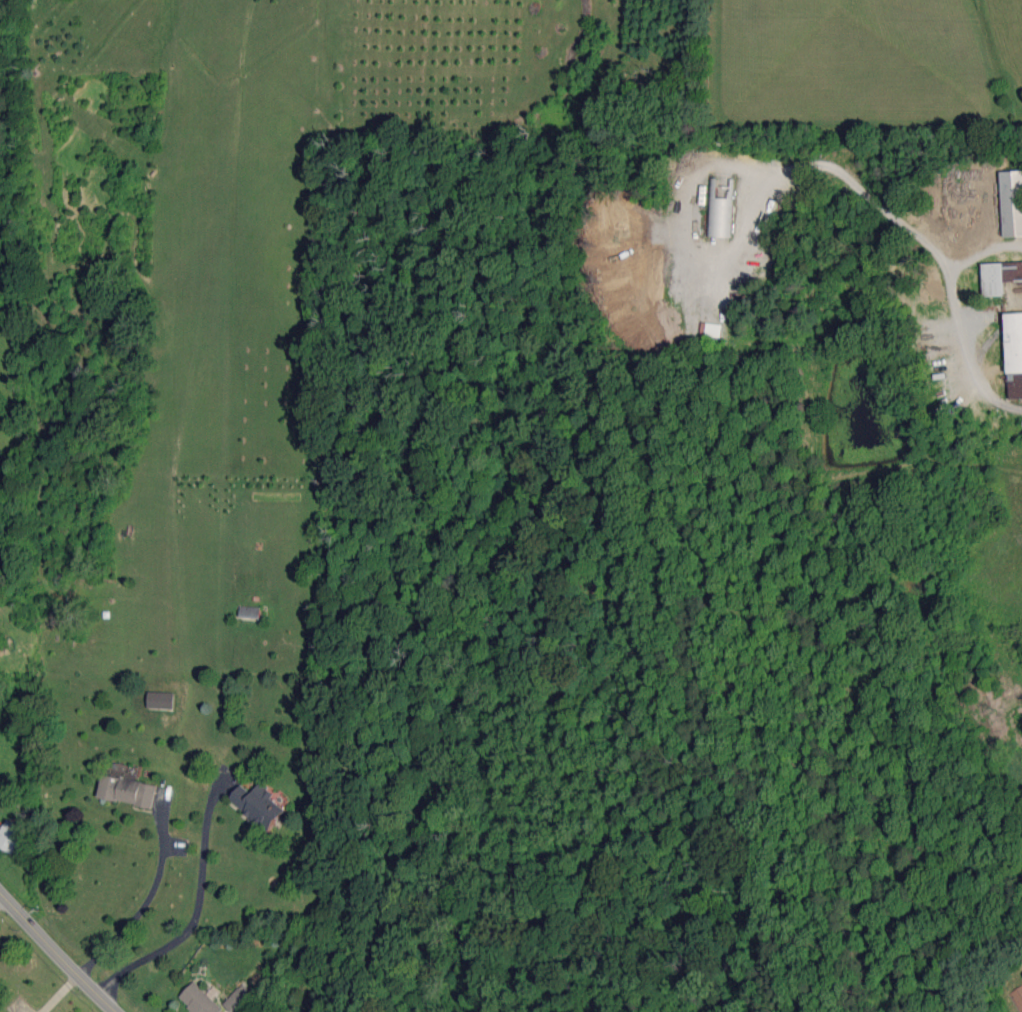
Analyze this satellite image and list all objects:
building: (1012, 202)
building: (719, 212)
road: (923, 250)
road: (980, 250)
building: (1000, 276)
building: (711, 329)
building: (1014, 354)
building: (160, 700)
building: (127, 790)
building: (259, 804)
building: (10, 835)
road: (139, 907)
road: (202, 914)
road: (58, 953)
building: (1018, 997)
building: (199, 1000)
building: (239, 1000)

